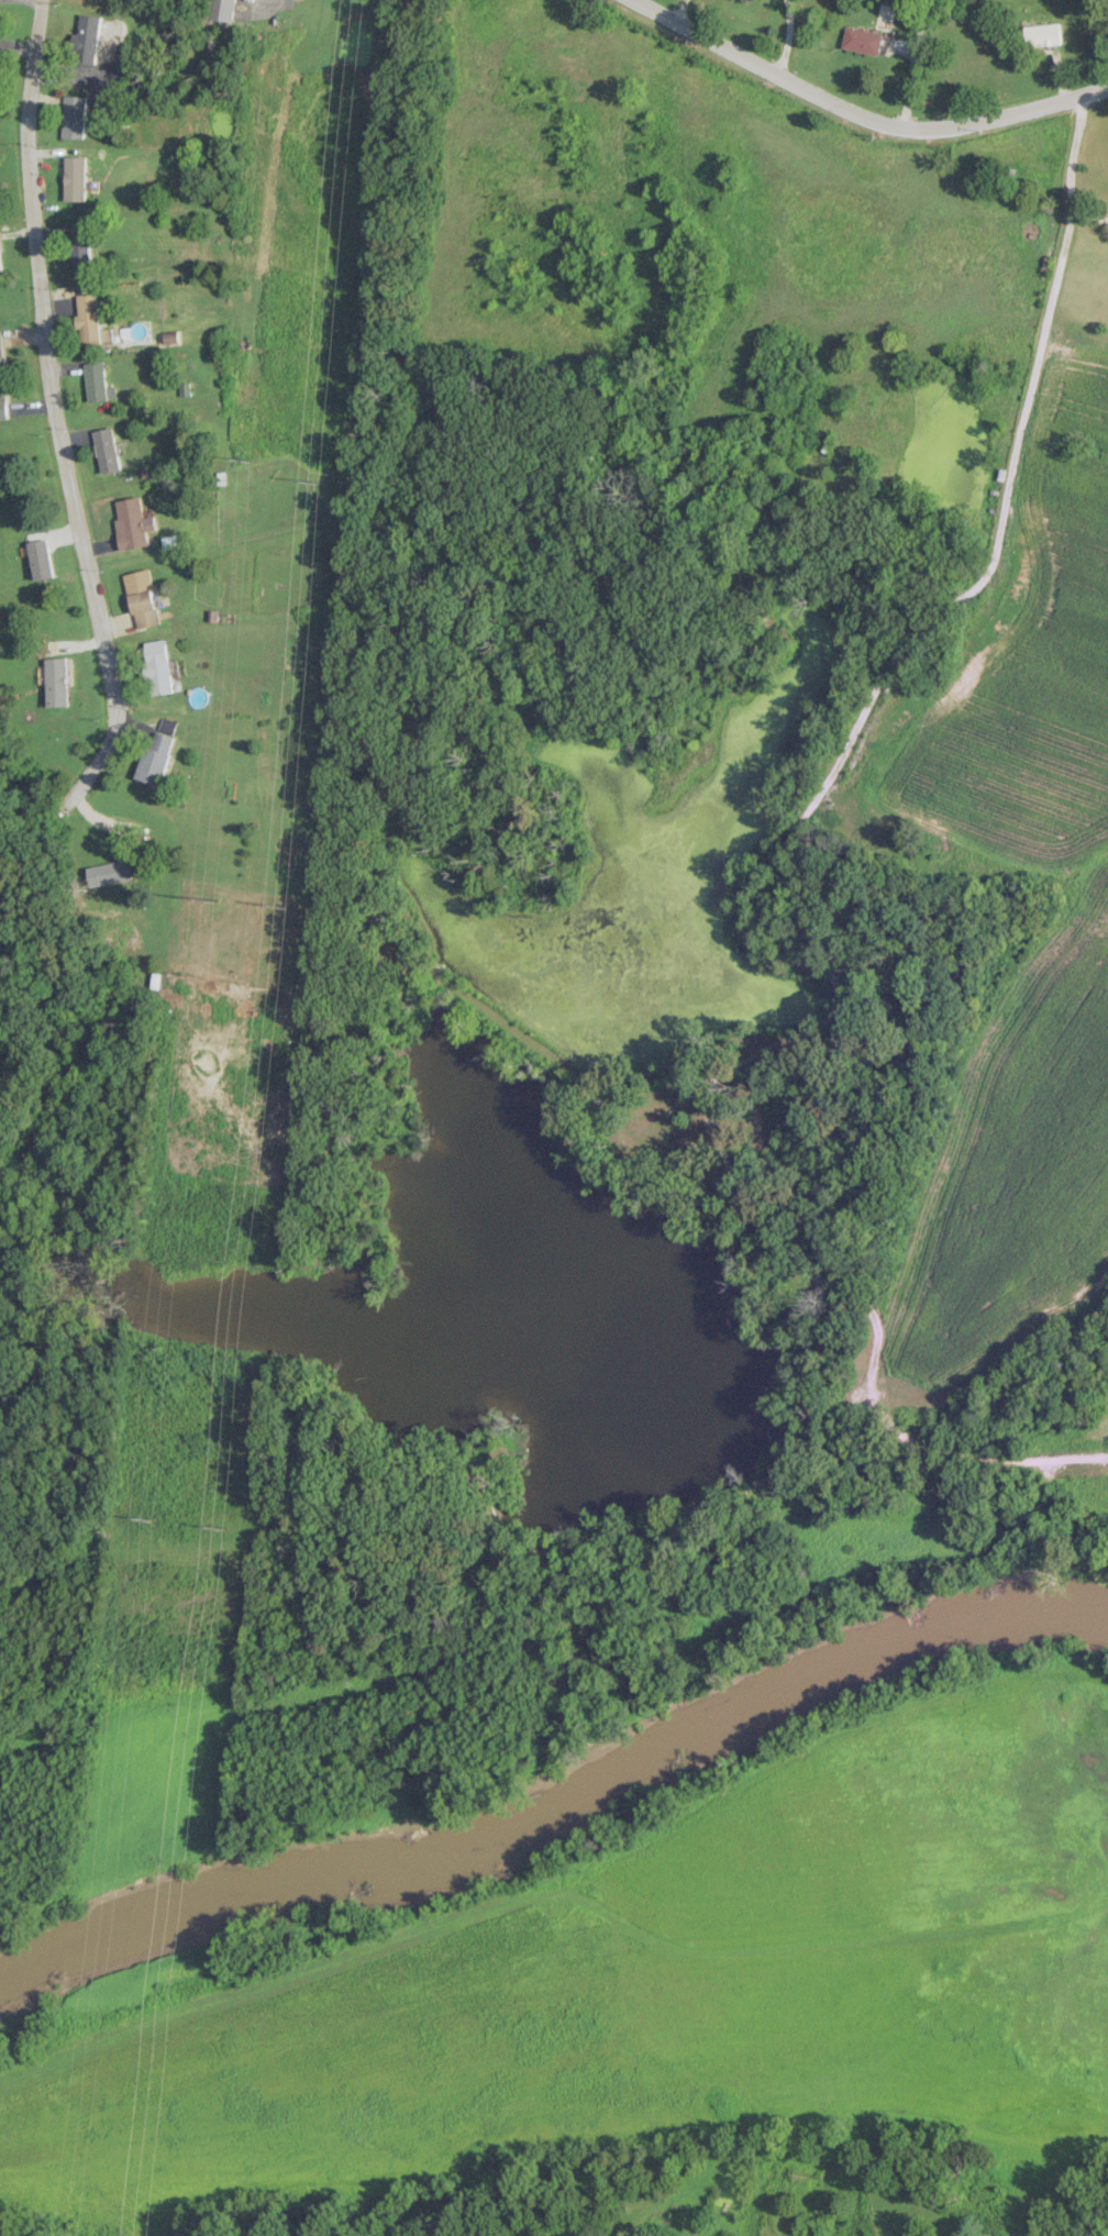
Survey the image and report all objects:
building: (222, 10)
road: (1099, 19)
building: (1042, 34)
building: (89, 35)
building: (864, 40)
road: (863, 115)
building: (75, 117)
road: (1072, 164)
building: (76, 178)
building: (80, 248)
building: (1, 255)
building: (89, 319)
building: (171, 339)
building: (2, 355)
building: (99, 381)
building: (4, 407)
road: (78, 438)
building: (107, 450)
power tower: (250, 458)
power tower: (319, 479)
building: (133, 522)
building: (42, 558)
building: (143, 598)
building: (159, 666)
building: (57, 680)
building: (158, 752)
building: (111, 872)
power tower: (214, 896)
power tower: (281, 901)
power tower: (152, 1518)
power tower: (223, 1523)

